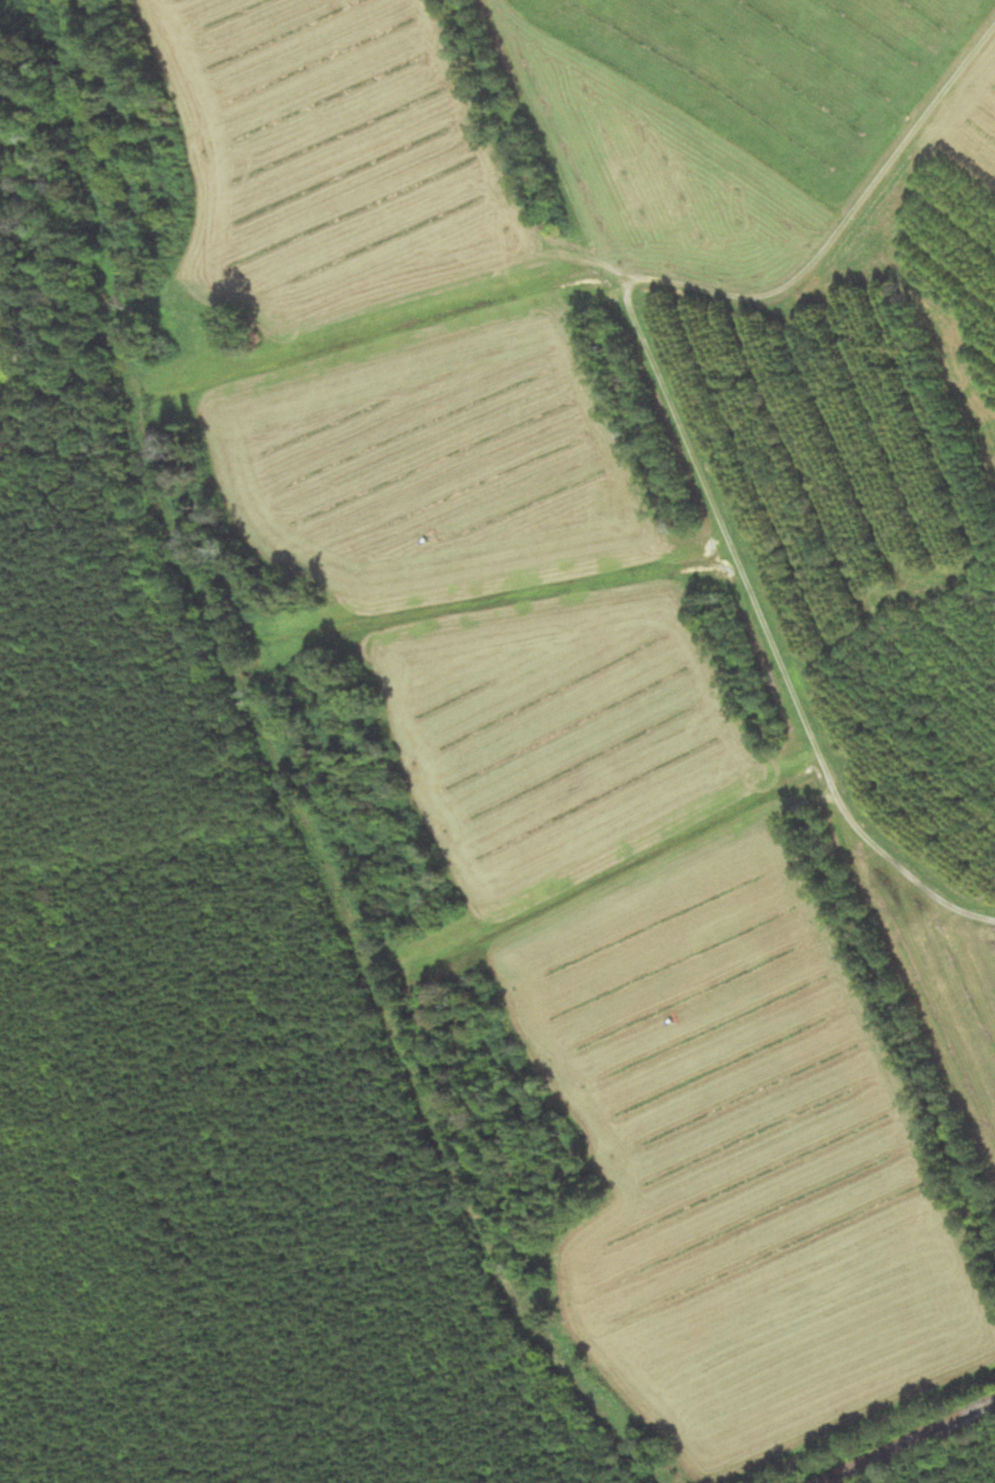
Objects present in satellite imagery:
railway: (910, 1443)

